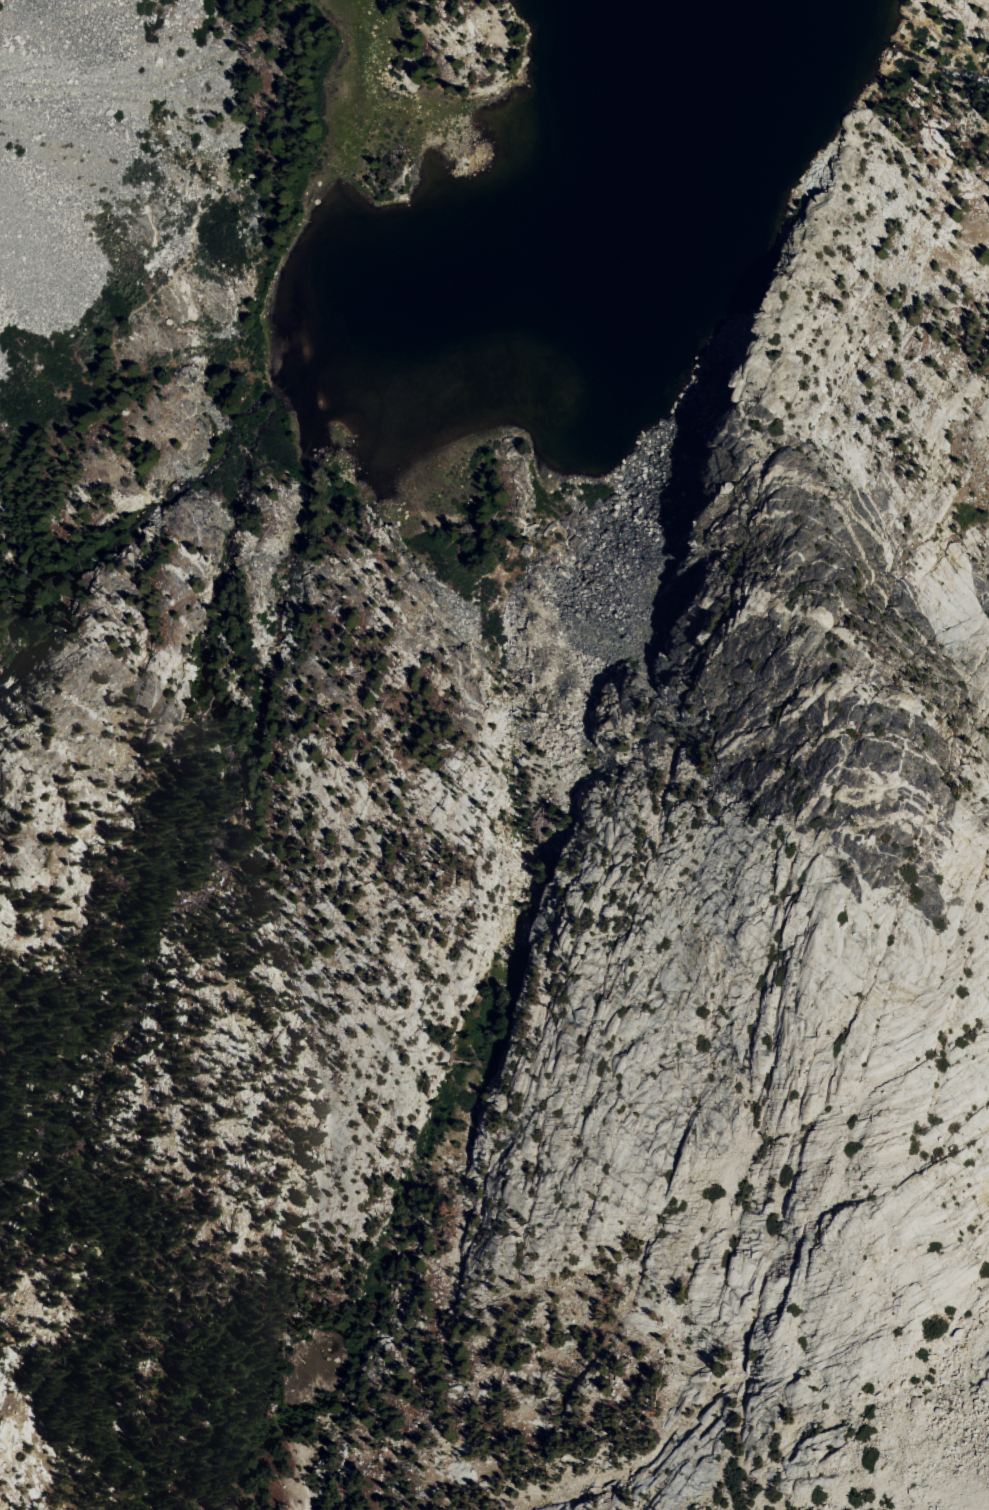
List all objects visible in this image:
road: (952, 24)
road: (184, 264)

